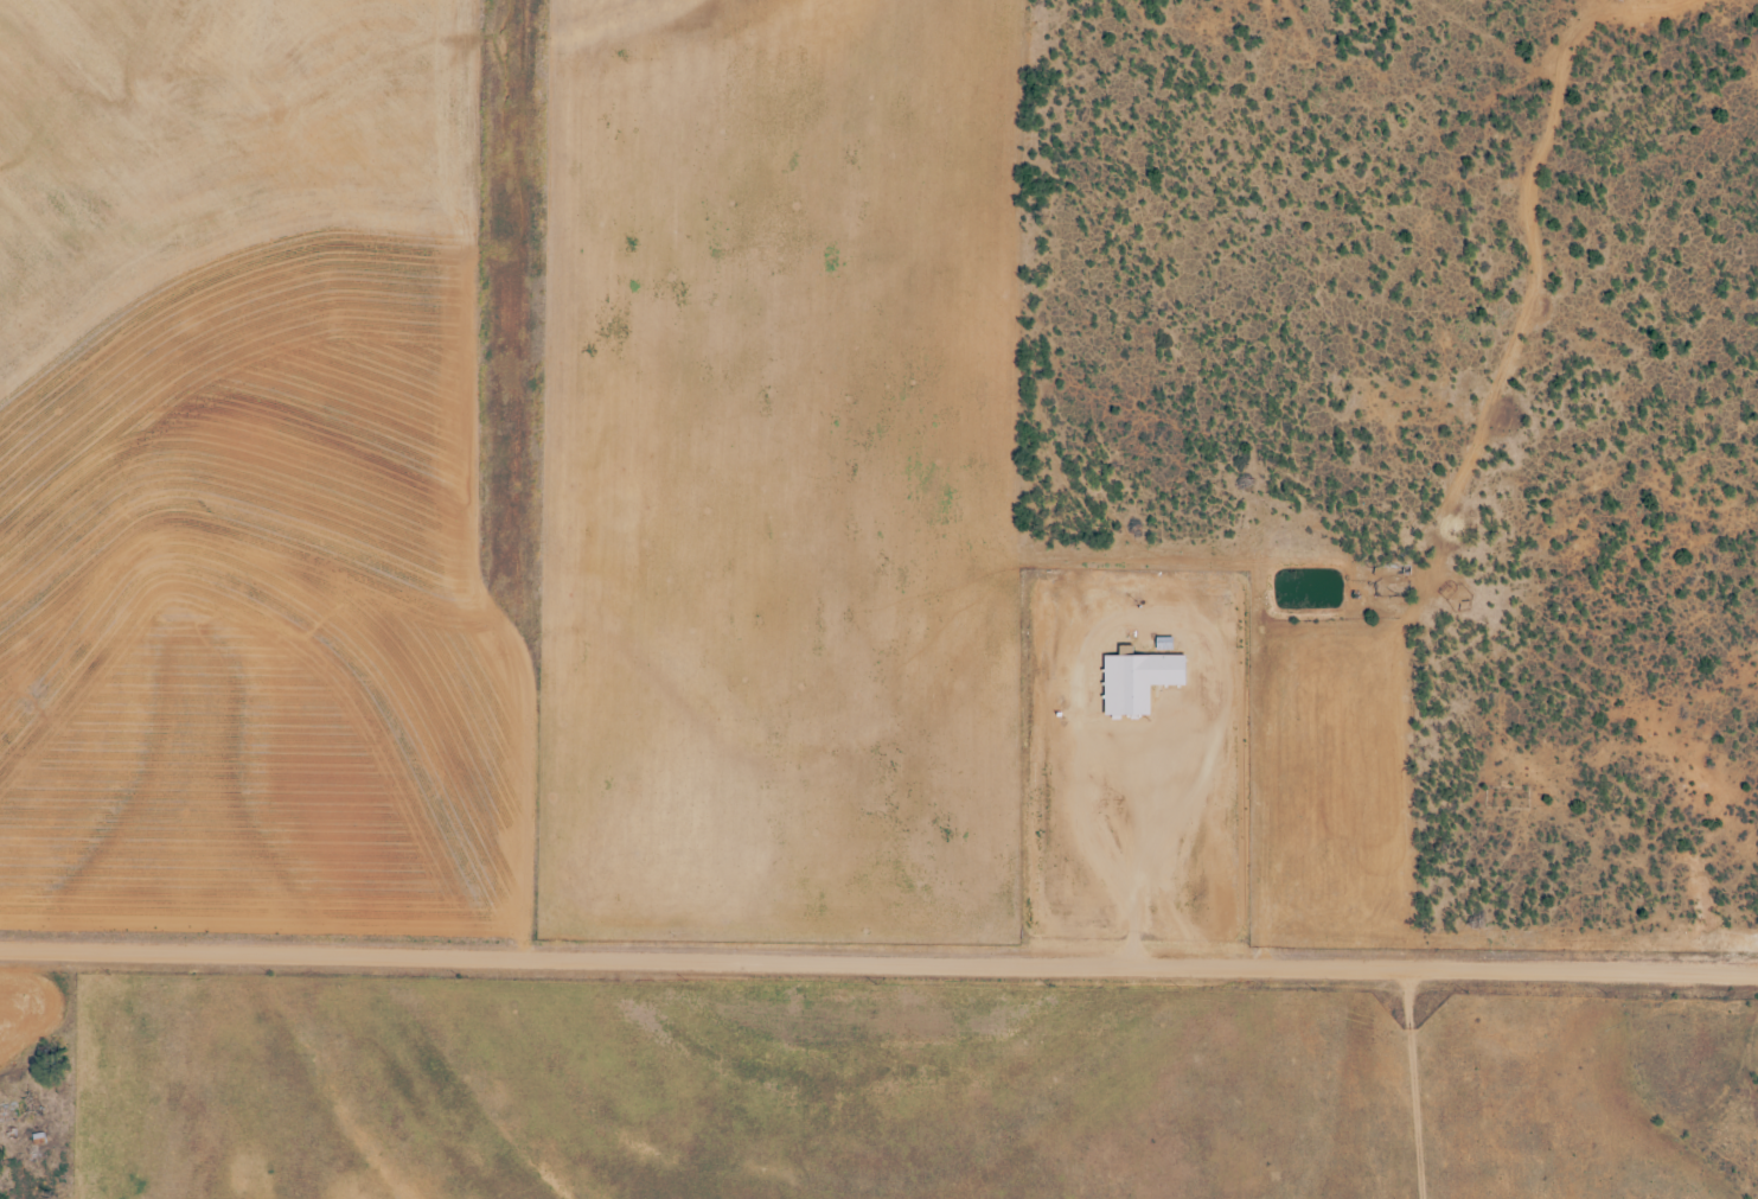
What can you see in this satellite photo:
road: (1450, 566)
building: (1134, 680)
road: (878, 955)

